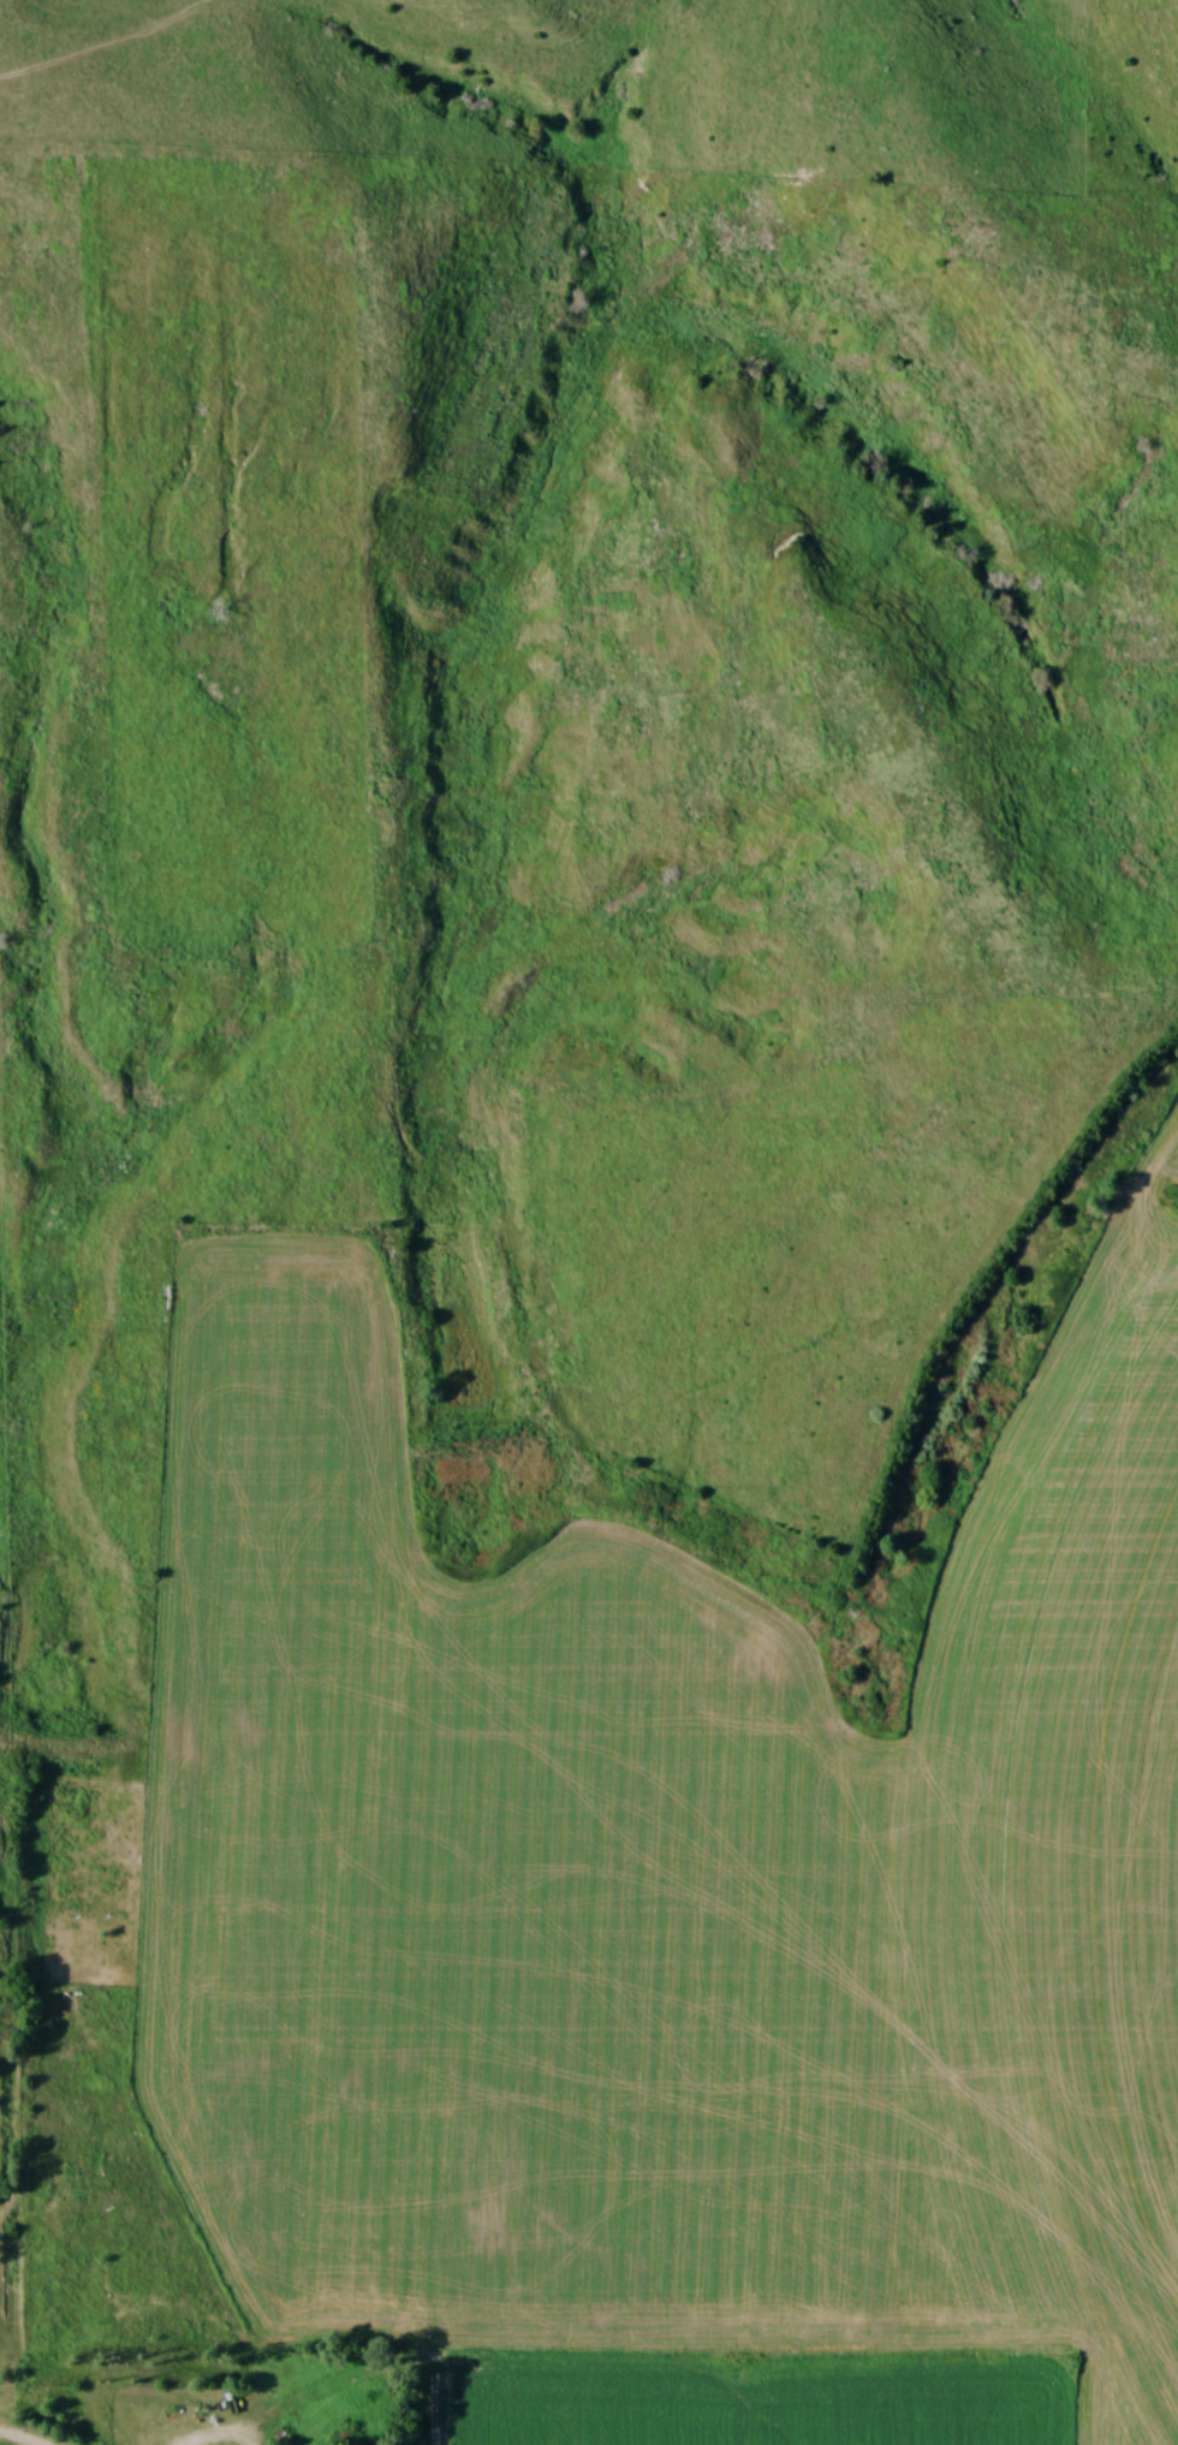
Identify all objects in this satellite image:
building: (34, 2182)
road: (18, 2441)

